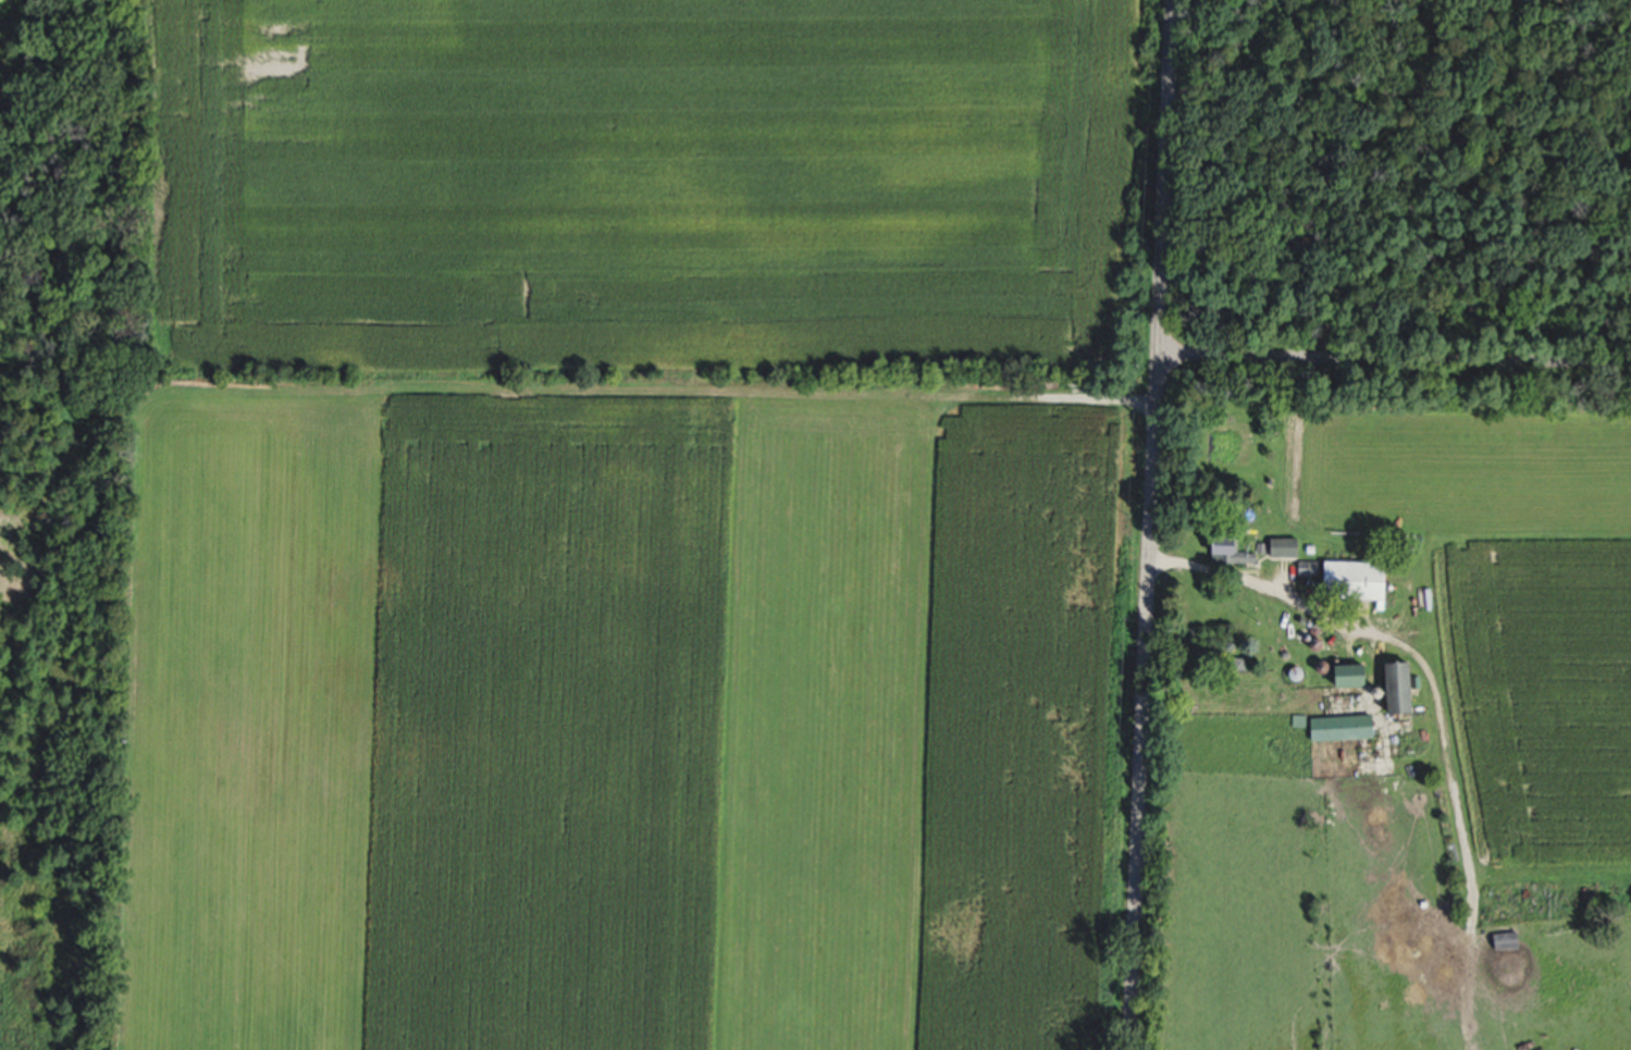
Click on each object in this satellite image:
road: (1394, 366)
road: (1149, 524)
building: (1278, 548)
building: (1223, 553)
building: (1302, 570)
building: (1345, 582)
road: (1265, 589)
building: (1338, 678)
building: (1388, 690)
building: (1335, 729)
building: (1503, 943)

